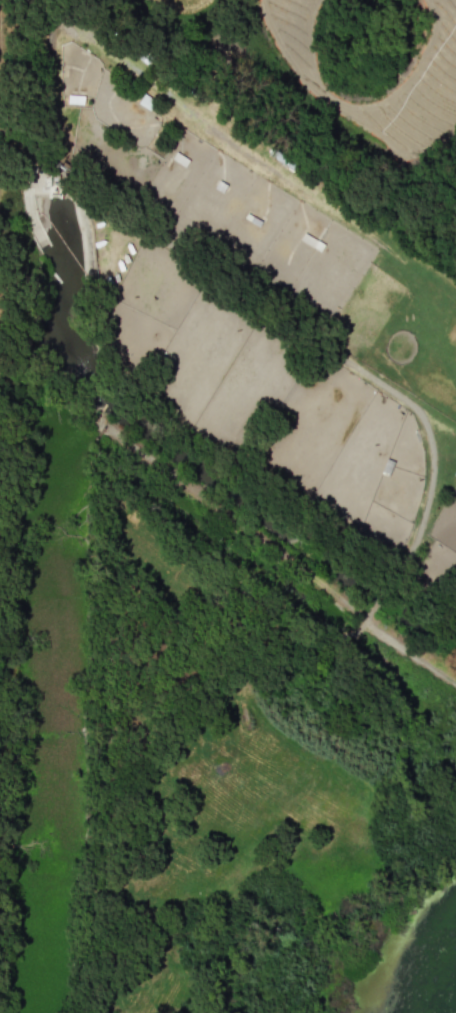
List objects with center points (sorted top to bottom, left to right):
railway: (4, 145)
river: (50, 728)

